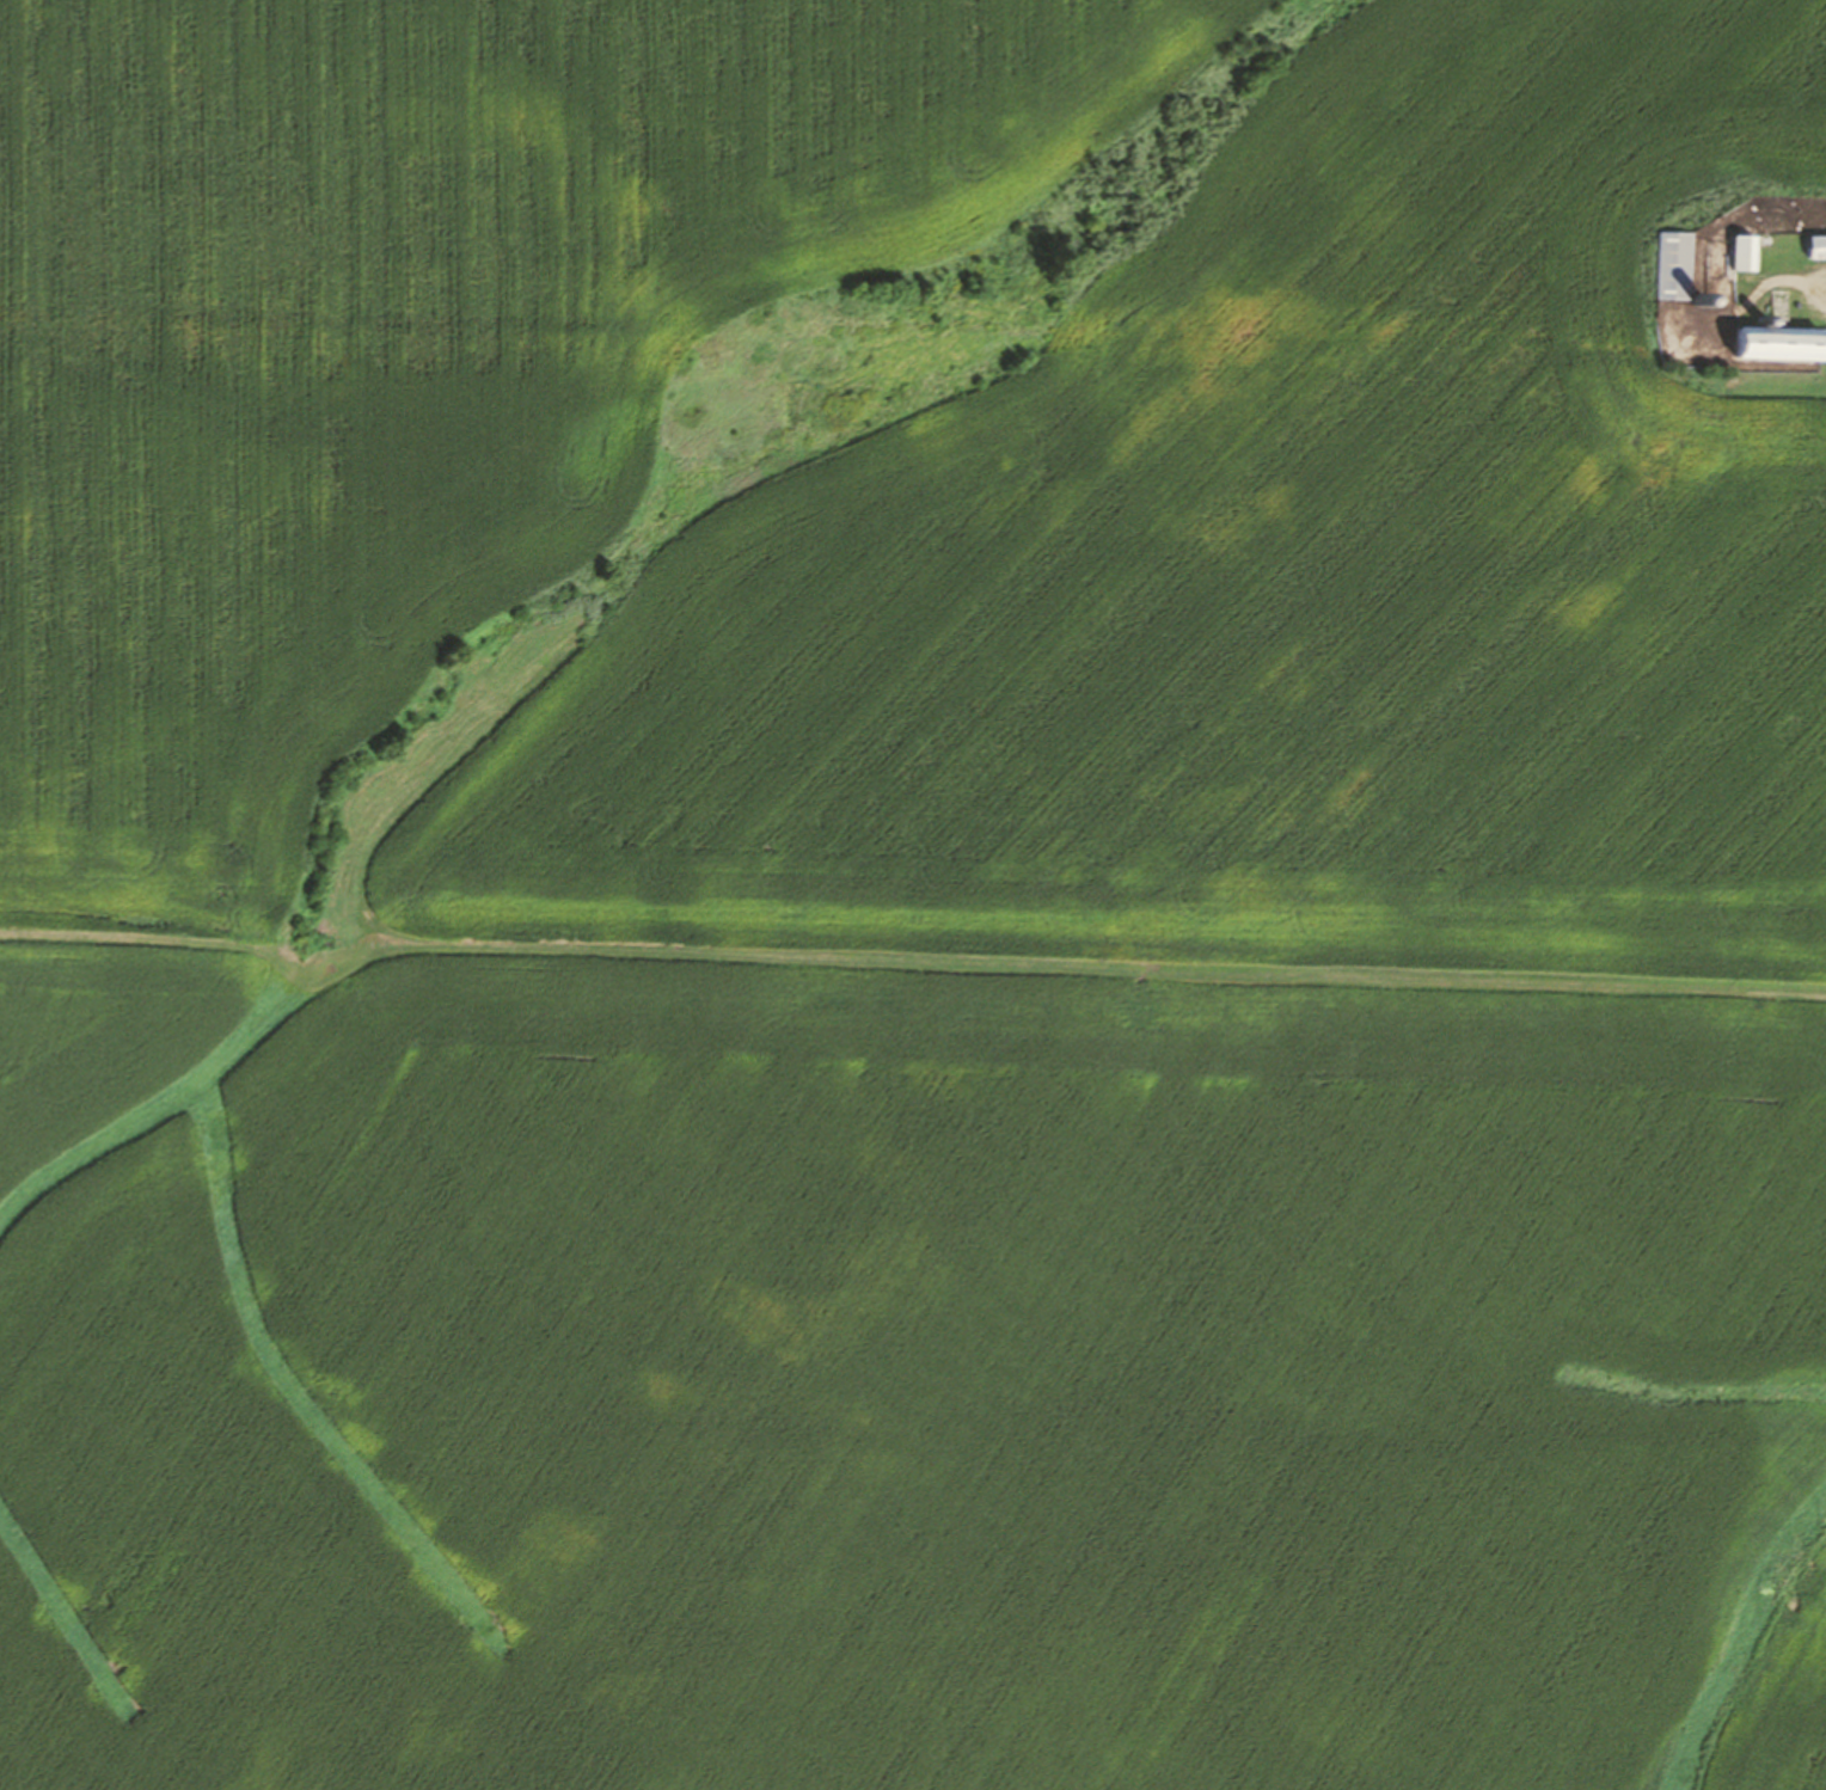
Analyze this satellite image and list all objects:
building: (1816, 247)
building: (1742, 253)
building: (1672, 266)
building: (1781, 344)

